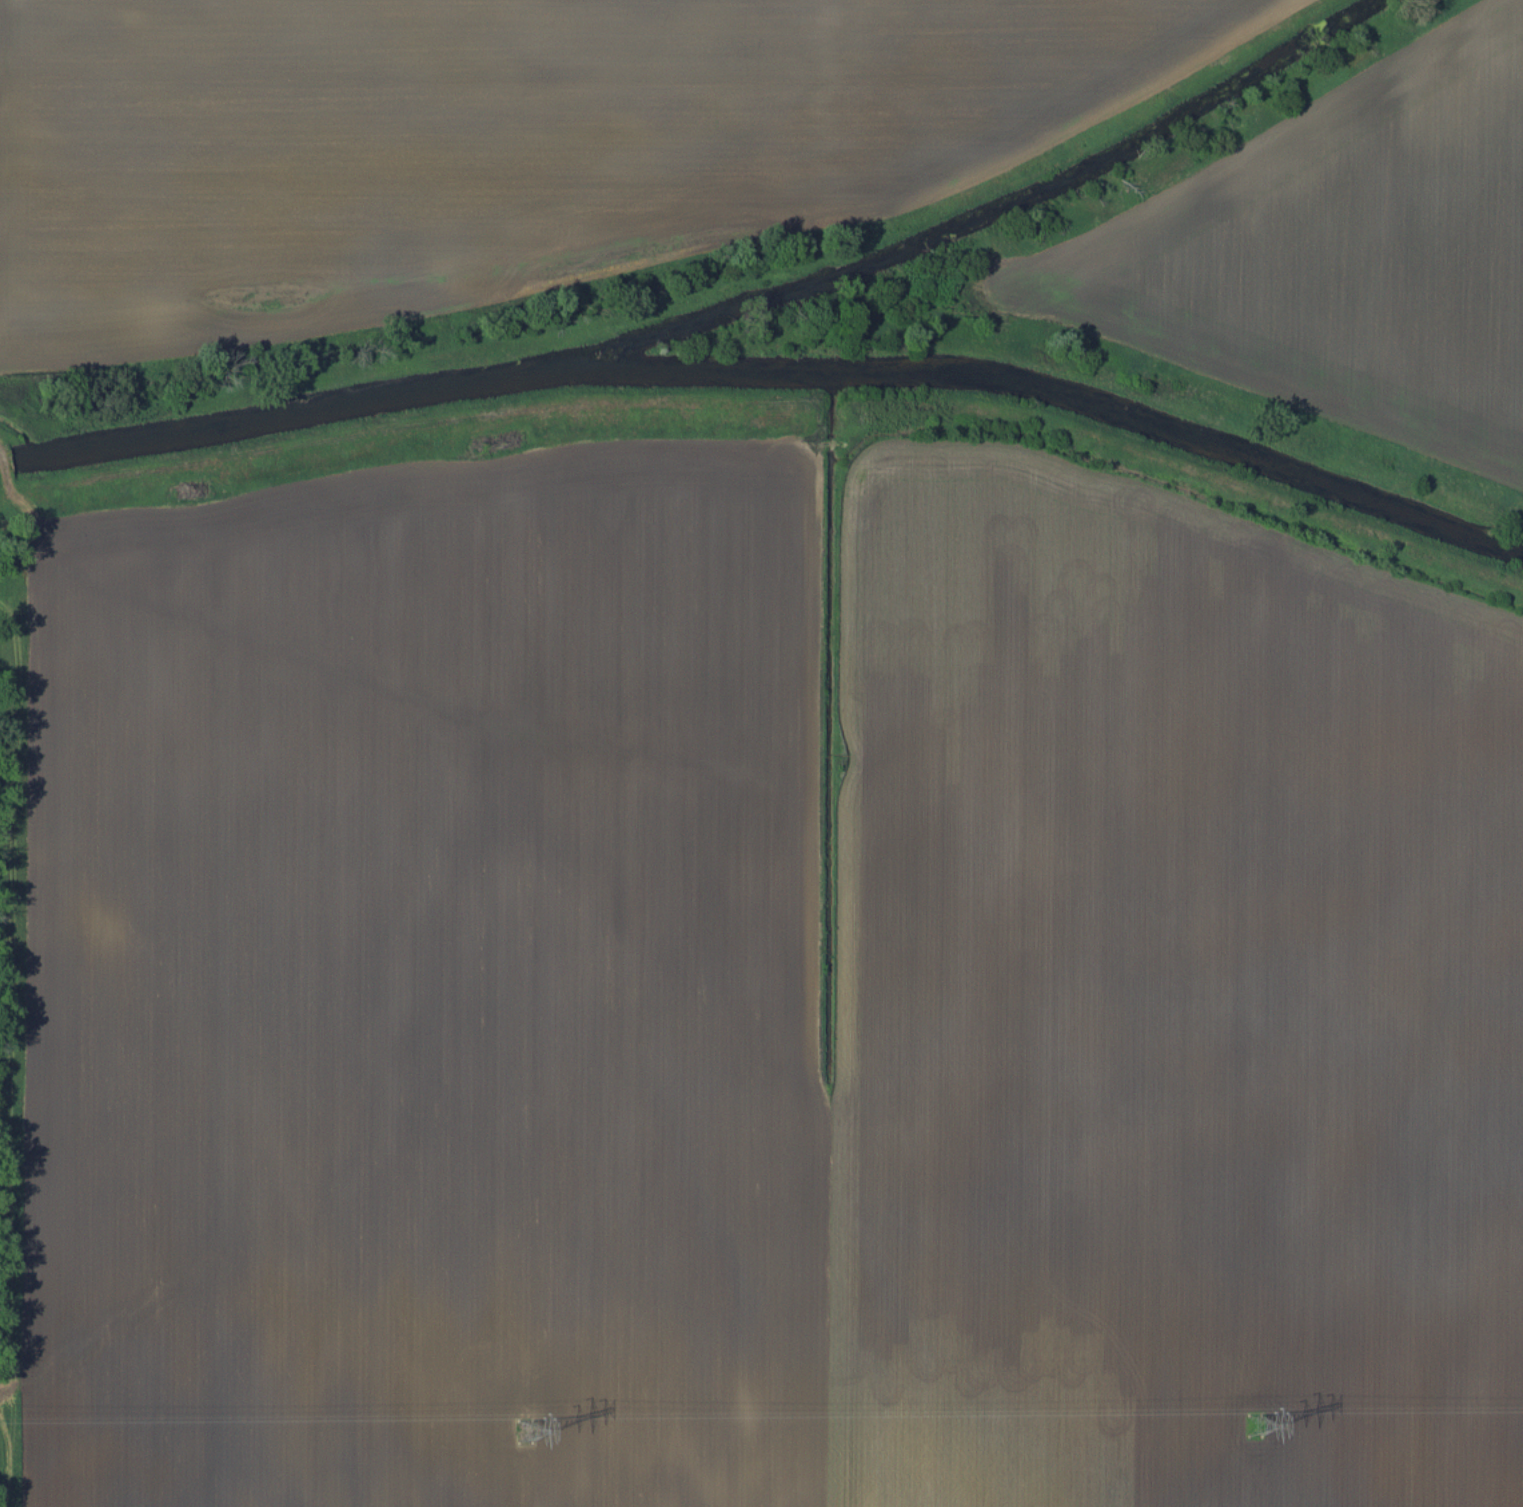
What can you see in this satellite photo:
power tower: (1249, 1410)
power tower: (518, 1416)

